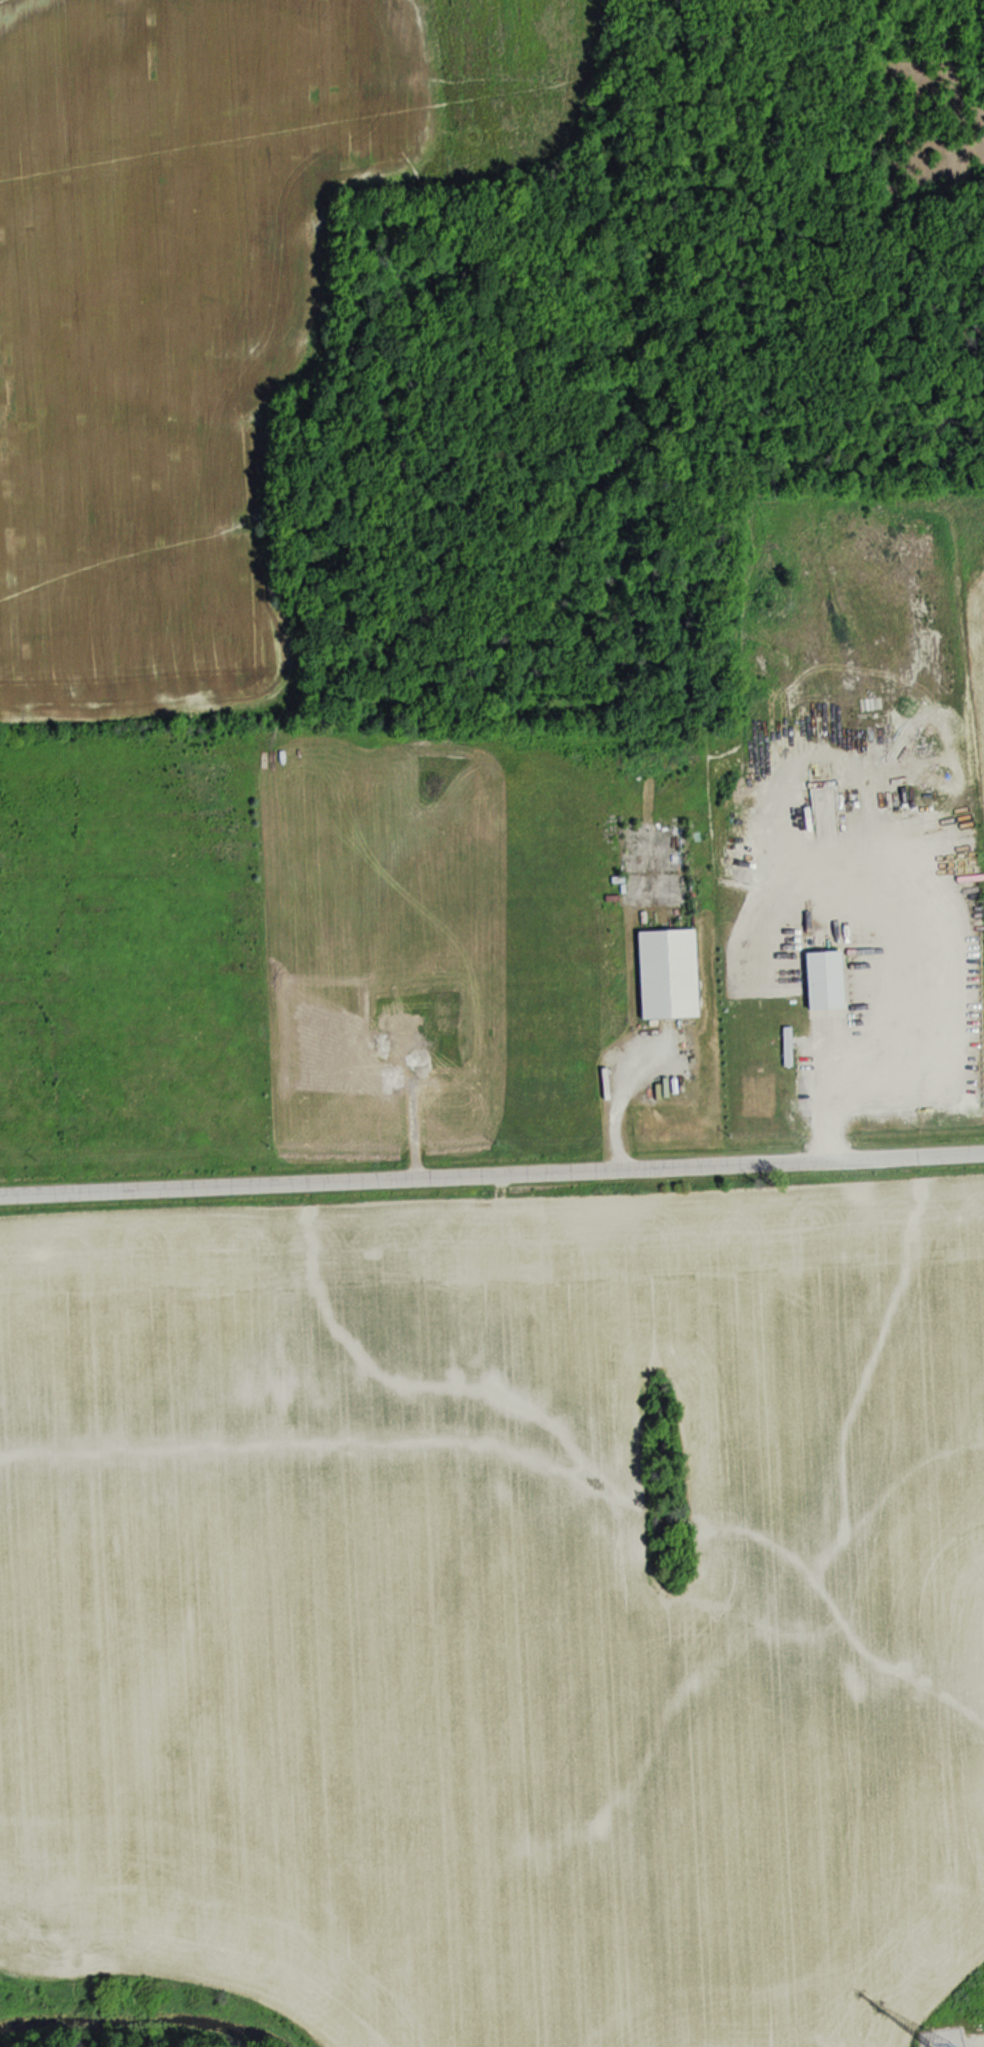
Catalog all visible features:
building: (919, 749)
building: (952, 750)
building: (664, 974)
building: (820, 980)
road: (492, 1175)
river: (137, 2019)
road: (972, 2034)

